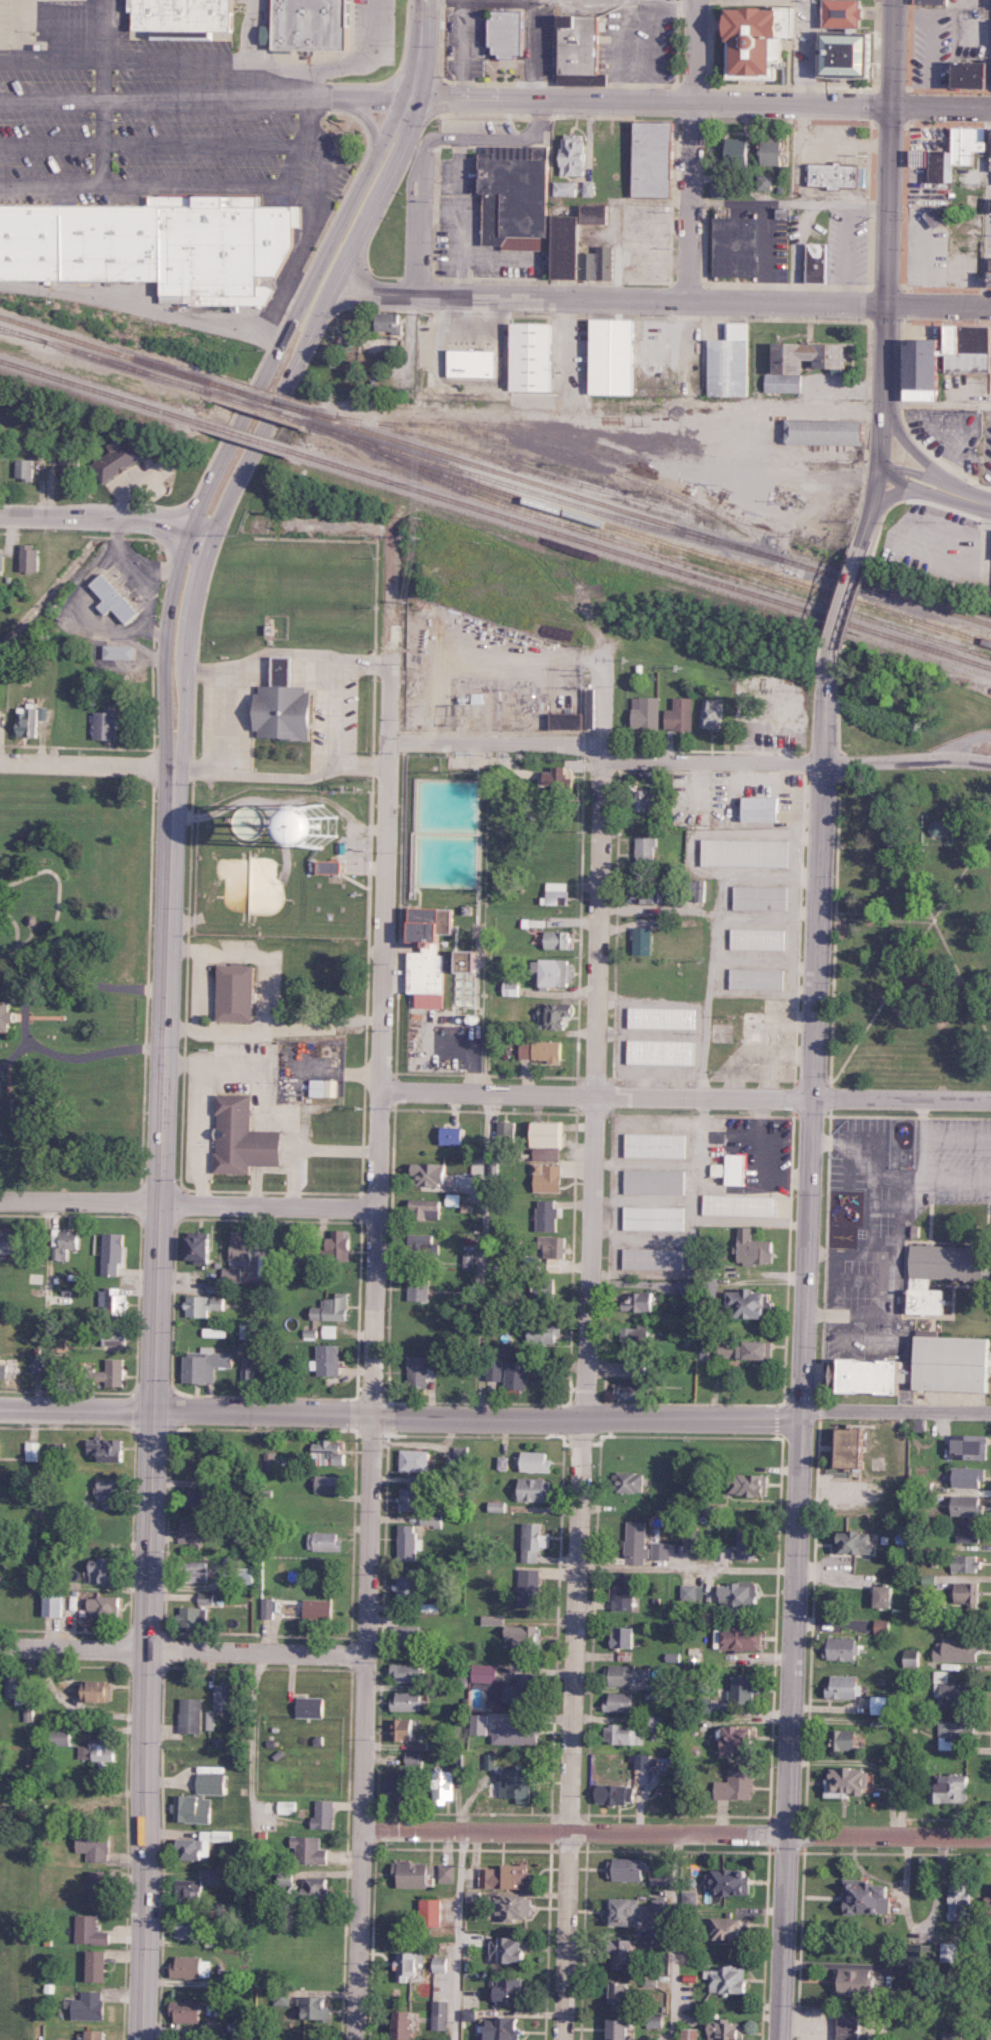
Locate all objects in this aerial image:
building: (933, 2)
building: (848, 13)
road: (59, 14)
building: (184, 16)
road: (371, 22)
building: (304, 26)
road: (15, 29)
building: (508, 34)
parking lot: (641, 39)
building: (763, 39)
parking lot: (929, 43)
road: (245, 48)
road: (418, 48)
building: (581, 48)
road: (692, 49)
road: (890, 50)
road: (121, 56)
road: (328, 62)
building: (838, 62)
building: (971, 74)
road: (905, 86)
road: (102, 92)
road: (332, 94)
road: (284, 95)
road: (669, 97)
road: (126, 99)
parking lot: (158, 114)
road: (307, 117)
parking lot: (476, 122)
road: (148, 139)
building: (989, 141)
road: (425, 144)
building: (741, 152)
building: (778, 153)
building: (954, 153)
building: (575, 155)
building: (646, 162)
building: (837, 175)
road: (165, 185)
building: (565, 188)
building: (718, 189)
road: (688, 198)
building: (515, 201)
building: (597, 214)
building: (937, 217)
building: (648, 243)
parking lot: (846, 244)
building: (154, 245)
building: (729, 247)
building: (578, 253)
road: (655, 296)
road: (884, 320)
building: (388, 322)
railway: (21, 336)
building: (961, 346)
railway: (110, 352)
road: (684, 354)
building: (607, 357)
railway: (107, 360)
building: (522, 360)
parking lot: (989, 362)
building: (463, 363)
building: (807, 363)
railway: (138, 365)
building: (720, 366)
railway: (98, 391)
railway: (262, 398)
railway: (257, 407)
road: (628, 412)
railway: (528, 427)
building: (822, 432)
railway: (242, 435)
railway: (680, 438)
road: (910, 445)
railway: (751, 448)
railway: (693, 450)
railway: (625, 453)
railway: (574, 459)
building: (115, 460)
railway: (518, 466)
building: (67, 467)
building: (23, 469)
road: (935, 478)
railway: (694, 481)
road: (898, 489)
railway: (527, 491)
railway: (646, 519)
road: (99, 520)
railway: (642, 550)
railway: (685, 551)
building: (28, 559)
railway: (639, 560)
building: (1, 561)
road: (844, 592)
building: (115, 600)
road: (389, 632)
building: (118, 652)
building: (285, 704)
building: (592, 708)
building: (648, 713)
building: (681, 714)
building: (712, 714)
building: (29, 720)
building: (569, 720)
building: (108, 725)
road: (502, 739)
road: (77, 744)
road: (908, 756)
road: (84, 758)
road: (712, 758)
building: (557, 779)
building: (645, 800)
building: (765, 808)
building: (746, 852)
building: (647, 853)
building: (332, 866)
water tower: (297, 868)
building: (699, 890)
building: (556, 892)
building: (647, 894)
road: (57, 896)
building: (762, 897)
road: (921, 897)
road: (2, 909)
road: (835, 919)
road: (15, 924)
road: (834, 926)
park: (910, 927)
building: (559, 939)
building: (760, 939)
building: (644, 940)
road: (710, 946)
road: (911, 952)
building: (429, 954)
building: (557, 972)
park: (74, 973)
road: (143, 978)
building: (467, 978)
building: (759, 978)
building: (511, 988)
building: (238, 992)
road: (24, 1014)
building: (560, 1014)
building: (5, 1015)
road: (44, 1015)
building: (663, 1017)
road: (161, 1042)
building: (542, 1050)
road: (14, 1051)
building: (663, 1052)
road: (6, 1074)
road: (482, 1077)
building: (325, 1088)
road: (684, 1094)
building: (506, 1132)
building: (551, 1134)
building: (453, 1135)
building: (245, 1137)
building: (657, 1145)
building: (549, 1153)
parking lot: (958, 1157)
building: (734, 1169)
building: (432, 1173)
building: (549, 1178)
building: (465, 1181)
building: (656, 1181)
road: (187, 1199)
building: (742, 1205)
building: (425, 1207)
parking lot: (885, 1212)
building: (547, 1216)
building: (655, 1218)
building: (843, 1235)
building: (11, 1241)
building: (340, 1243)
building: (67, 1244)
building: (422, 1244)
building: (551, 1247)
building: (202, 1248)
building: (242, 1248)
building: (755, 1248)
building: (114, 1253)
building: (655, 1258)
building: (946, 1261)
building: (233, 1274)
building: (686, 1287)
building: (419, 1289)
building: (931, 1296)
building: (113, 1301)
building: (640, 1302)
building: (754, 1304)
building: (204, 1305)
building: (334, 1308)
building: (246, 1330)
building: (544, 1332)
building: (118, 1335)
building: (635, 1340)
road: (806, 1342)
building: (758, 1350)
building: (732, 1351)
building: (954, 1354)
park: (957, 1354)
building: (329, 1360)
building: (877, 1361)
building: (37, 1364)
building: (207, 1365)
building: (495, 1369)
building: (635, 1369)
building: (421, 1371)
building: (4, 1372)
building: (116, 1372)
building: (249, 1373)
building: (518, 1375)
building: (916, 1379)
road: (370, 1388)
building: (630, 1391)
road: (584, 1398)
road: (496, 1416)
building: (971, 1445)
building: (110, 1447)
building: (858, 1447)
building: (32, 1450)
building: (329, 1452)
building: (415, 1459)
building: (270, 1460)
building: (535, 1461)
building: (971, 1476)
building: (415, 1481)
building: (631, 1481)
building: (749, 1483)
building: (329, 1484)
building: (536, 1488)
building: (109, 1489)
building: (196, 1499)
building: (410, 1499)
building: (970, 1505)
building: (431, 1519)
building: (192, 1529)
building: (970, 1531)
building: (326, 1540)
building: (534, 1540)
building: (856, 1541)
building: (408, 1542)
building: (638, 1542)
building: (751, 1544)
building: (662, 1550)
building: (966, 1562)
road: (689, 1568)
building: (106, 1569)
building: (194, 1571)
building: (408, 1585)
building: (531, 1587)
building: (624, 1592)
building: (693, 1592)
building: (967, 1592)
building: (741, 1595)
building: (886, 1595)
building: (207, 1598)
building: (55, 1603)
building: (106, 1606)
building: (268, 1607)
building: (320, 1608)
building: (191, 1616)
building: (409, 1634)
building: (524, 1635)
building: (745, 1636)
building: (624, 1637)
road: (181, 1648)
building: (843, 1648)
building: (959, 1649)
building: (912, 1657)
building: (409, 1672)
building: (487, 1672)
building: (628, 1674)
building: (846, 1686)
building: (744, 1689)
building: (95, 1690)
building: (520, 1691)
building: (957, 1693)
building: (224, 1696)
building: (409, 1700)
building: (622, 1702)
building: (881, 1704)
building: (312, 1706)
building: (192, 1714)
building: (211, 1719)
building: (481, 1724)
building: (656, 1724)
building: (404, 1728)
building: (519, 1732)
building: (624, 1734)
building: (958, 1734)
building: (61, 1736)
building: (740, 1739)
building: (851, 1739)
building: (100, 1751)
building: (413, 1758)
building: (645, 1761)
building: (519, 1782)
building: (851, 1782)
building: (213, 1783)
building: (742, 1783)
building: (400, 1785)
building: (446, 1785)
building: (952, 1789)
building: (617, 1793)
building: (288, 1807)
building: (194, 1809)
building: (324, 1814)
road: (675, 1829)
building: (201, 1843)
building: (96, 1845)
building: (310, 1850)
building: (629, 1869)
building: (448, 1872)
building: (413, 1873)
building: (216, 1876)
building: (508, 1876)
building: (285, 1877)
building: (660, 1879)
building: (732, 1881)
building: (100, 1887)
building: (316, 1888)
building: (189, 1889)
building: (692, 1896)
building: (871, 1896)
building: (961, 1900)
building: (989, 1902)
building: (516, 1907)
building: (629, 1911)
building: (432, 1912)
building: (191, 1928)
building: (735, 1928)
building: (91, 1930)
road: (459, 1933)
road: (674, 1935)
building: (512, 1949)
building: (950, 1951)
building: (624, 1952)
building: (923, 1958)
building: (410, 1964)
building: (100, 1965)
building: (193, 1966)
building: (731, 1979)
building: (857, 1981)
building: (513, 1991)
building: (624, 1995)
building: (282, 1998)
building: (90, 2005)
building: (318, 2007)
building: (188, 2010)
building: (441, 2014)
building: (470, 2014)
building: (408, 2024)
building: (853, 2026)
building: (507, 2028)
building: (237, 2029)
building: (623, 2029)
building: (728, 2030)
building: (98, 2034)
building: (692, 2034)
building: (955, 2035)

